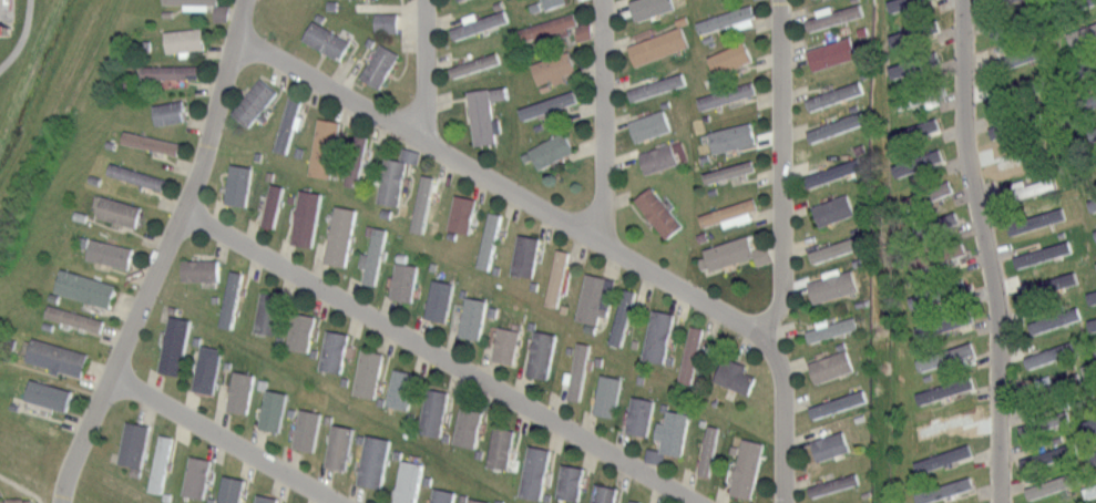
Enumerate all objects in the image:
building: (193, 1)
building: (1000, 1)
building: (906, 2)
building: (553, 3)
building: (1078, 3)
building: (656, 8)
building: (834, 17)
building: (728, 19)
building: (381, 21)
building: (480, 23)
building: (1018, 23)
building: (921, 25)
building: (550, 27)
building: (1086, 34)
road: (24, 38)
building: (185, 39)
building: (328, 40)
building: (659, 45)
building: (833, 51)
building: (1018, 55)
building: (733, 58)
building: (922, 59)
building: (477, 64)
building: (381, 65)
building: (554, 68)
building: (895, 68)
building: (1086, 68)
road: (423, 69)
building: (171, 72)
building: (658, 85)
building: (1016, 90)
building: (836, 94)
building: (728, 95)
building: (920, 95)
building: (1086, 100)
building: (256, 103)
building: (550, 104)
building: (171, 112)
road: (602, 115)
building: (483, 116)
building: (1021, 122)
building: (289, 124)
building: (652, 124)
building: (928, 125)
building: (837, 126)
building: (991, 130)
building: (1093, 133)
building: (734, 136)
building: (152, 142)
building: (326, 147)
building: (553, 150)
building: (1025, 156)
building: (660, 157)
building: (925, 157)
building: (356, 158)
building: (898, 166)
building: (730, 171)
building: (836, 173)
building: (139, 176)
building: (392, 181)
road: (502, 181)
building: (239, 184)
building: (1028, 188)
building: (923, 194)
building: (423, 201)
building: (1093, 203)
building: (273, 205)
building: (836, 211)
building: (121, 212)
building: (660, 212)
building: (729, 212)
building: (464, 213)
building: (307, 217)
building: (1038, 219)
building: (929, 222)
building: (1095, 229)
building: (341, 236)
building: (490, 239)
building: (836, 249)
road: (987, 250)
building: (1049, 250)
building: (729, 251)
building: (934, 251)
building: (111, 253)
building: (526, 255)
road: (165, 256)
building: (376, 256)
road: (783, 257)
building: (1094, 264)
building: (201, 268)
building: (557, 277)
building: (404, 281)
building: (1056, 283)
building: (834, 286)
building: (88, 288)
building: (936, 292)
building: (1094, 295)
building: (445, 296)
building: (232, 298)
building: (594, 298)
building: (436, 299)
building: (269, 311)
building: (624, 316)
building: (474, 317)
building: (75, 318)
building: (1055, 318)
building: (950, 319)
building: (1089, 321)
building: (832, 328)
building: (301, 331)
building: (659, 335)
building: (506, 343)
building: (175, 345)
building: (335, 349)
building: (1052, 351)
building: (542, 353)
building: (693, 353)
building: (945, 355)
building: (59, 356)
building: (1093, 358)
road: (441, 360)
building: (832, 365)
building: (208, 368)
building: (580, 371)
building: (368, 373)
building: (738, 376)
building: (1051, 386)
building: (401, 388)
building: (943, 390)
building: (1090, 391)
building: (242, 392)
building: (50, 394)
building: (608, 394)
building: (838, 403)
building: (275, 410)
building: (436, 411)
building: (641, 415)
building: (1043, 422)
building: (1089, 422)
building: (945, 423)
building: (469, 427)
building: (308, 429)
building: (675, 431)
road: (219, 442)
building: (135, 443)
building: (834, 444)
building: (341, 446)
building: (502, 446)
building: (709, 449)
building: (1047, 455)
building: (1092, 455)
building: (939, 456)
park: (28, 459)
building: (376, 460)
building: (162, 463)
building: (749, 468)
building: (535, 472)
building: (197, 476)
building: (410, 481)
building: (572, 482)
building: (833, 485)
building: (1045, 485)
road: (22, 486)
building: (942, 487)
building: (233, 490)
building: (1089, 490)
building: (605, 493)
building: (444, 495)
building: (266, 497)
building: (17, 500)
building: (478, 500)
building: (635, 501)
building: (1057, 501)

